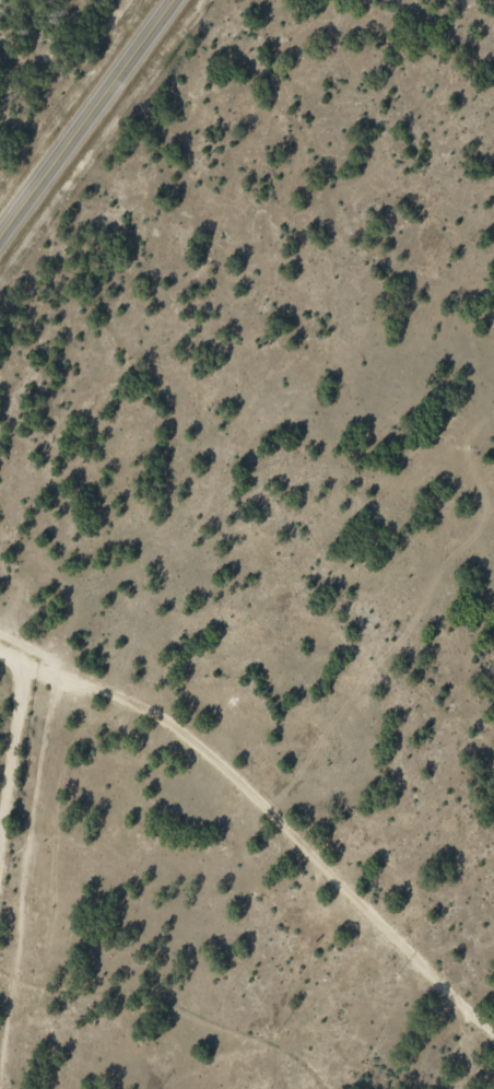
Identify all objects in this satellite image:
road: (92, 125)
road: (17, 774)
road: (267, 805)

